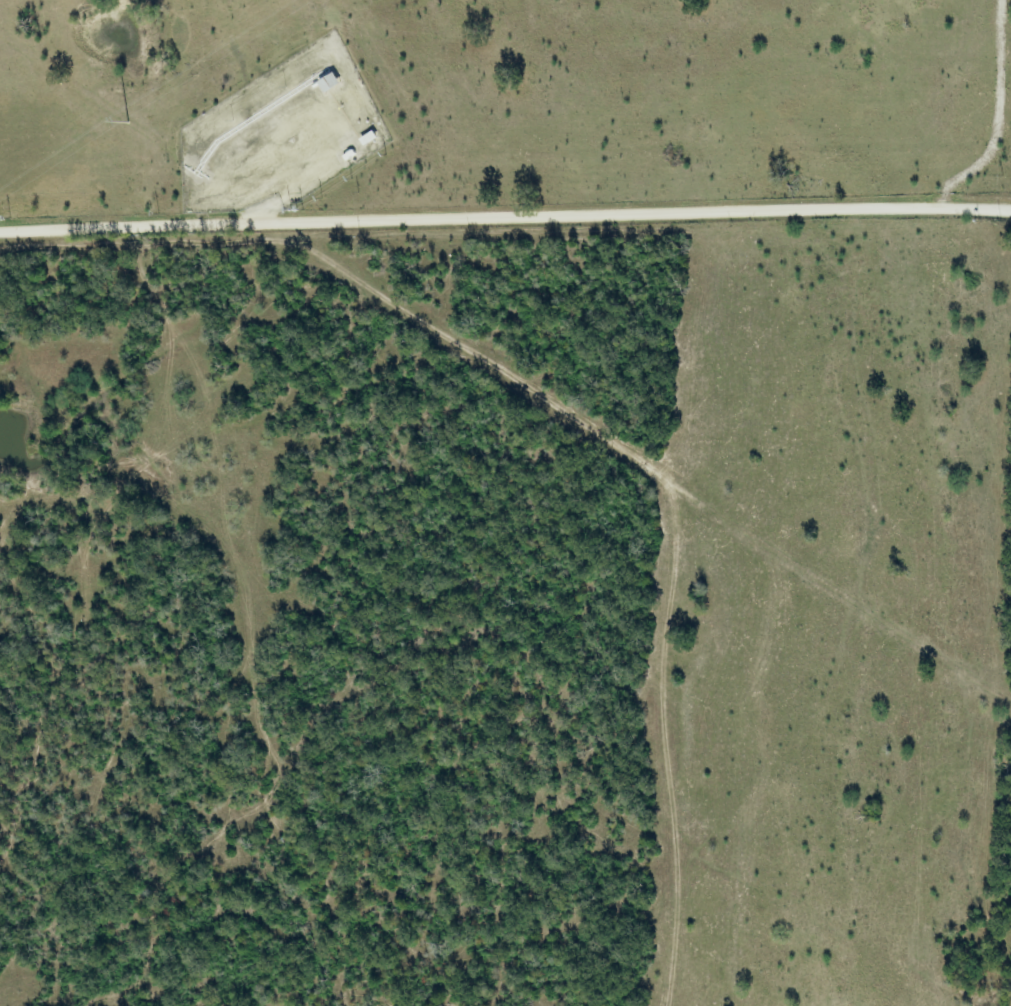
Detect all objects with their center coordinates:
power tower: (128, 123)
road: (505, 216)

